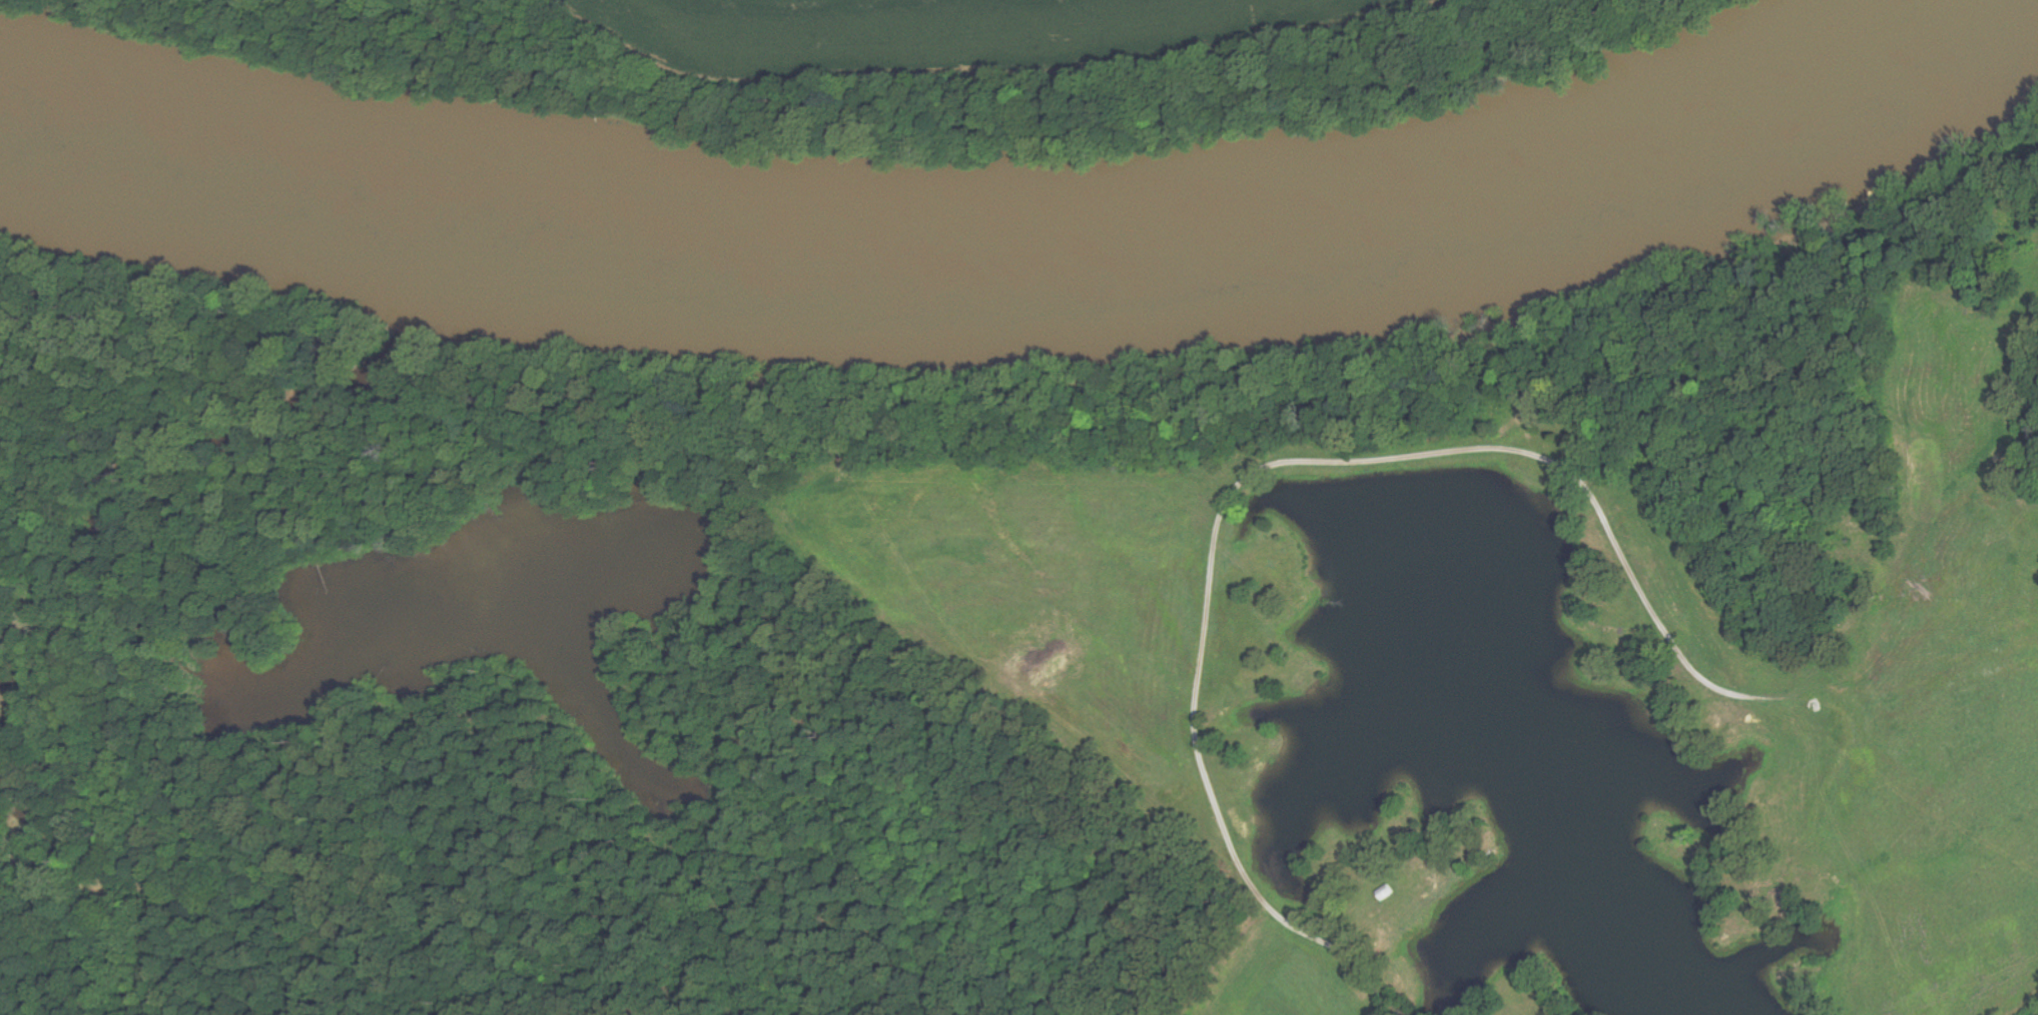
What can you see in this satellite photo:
river: (984, 240)
road: (1232, 851)

